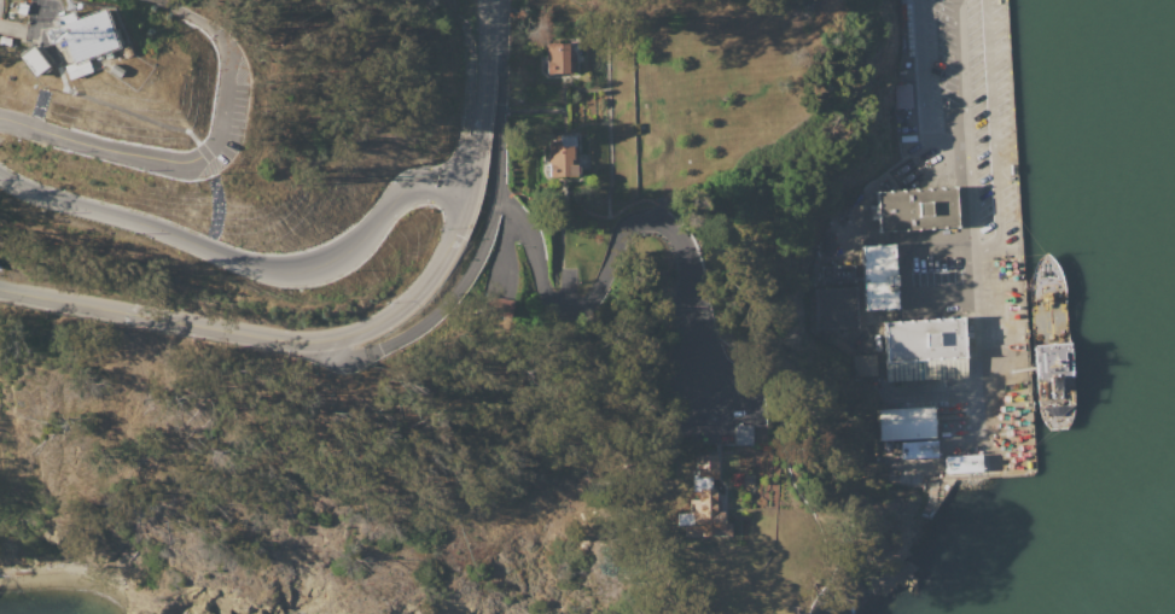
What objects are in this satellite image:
building: (902, 1)
building: (19, 8)
building: (907, 28)
road: (28, 33)
building: (85, 35)
building: (4, 40)
building: (123, 52)
building: (557, 52)
road: (65, 53)
building: (31, 62)
building: (75, 69)
building: (114, 71)
road: (551, 75)
road: (58, 77)
road: (581, 86)
road: (919, 93)
road: (487, 94)
building: (900, 97)
road: (560, 101)
road: (109, 105)
parking lot: (972, 107)
road: (586, 121)
road: (606, 123)
road: (988, 131)
road: (542, 150)
road: (576, 151)
building: (559, 152)
road: (205, 157)
road: (199, 159)
road: (860, 207)
building: (913, 211)
road: (558, 214)
road: (483, 224)
road: (622, 226)
road: (970, 228)
pier: (1018, 238)
road: (500, 240)
building: (827, 247)
road: (245, 259)
parking lot: (936, 269)
road: (902, 271)
building: (836, 277)
building: (877, 280)
road: (563, 286)
building: (495, 299)
building: (833, 311)
building: (921, 338)
road: (273, 339)
building: (861, 368)
building: (924, 368)
road: (879, 379)
railway: (946, 417)
building: (902, 423)
building: (739, 429)
building: (915, 449)
building: (959, 463)
road: (715, 473)
building: (901, 479)
building: (913, 481)
building: (702, 496)

